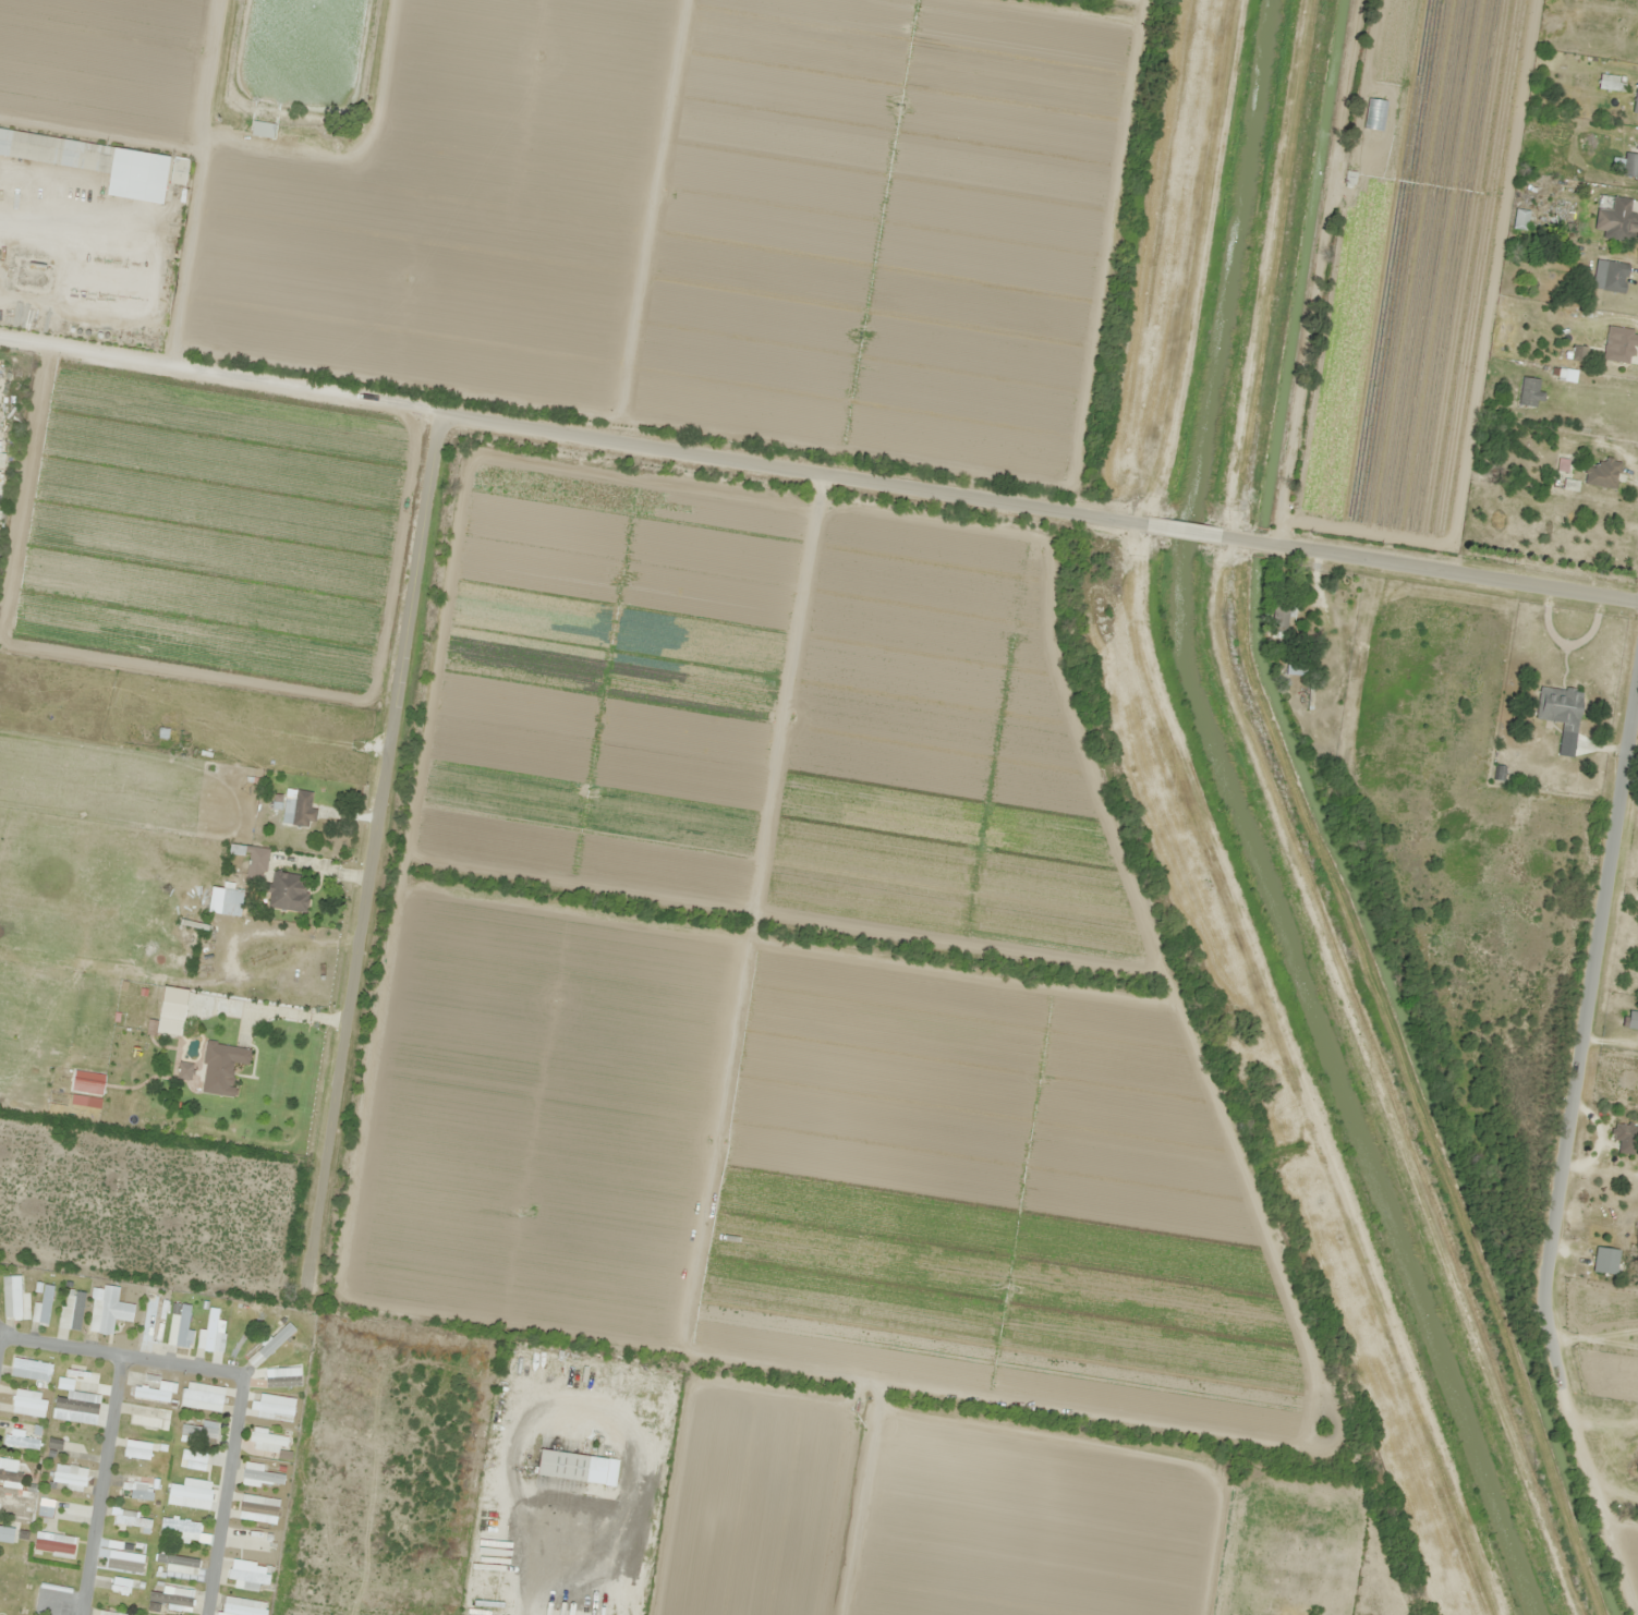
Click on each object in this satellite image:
building: (1637, 36)
building: (1607, 83)
building: (263, 129)
building: (96, 162)
building: (1619, 162)
building: (179, 171)
building: (1518, 219)
building: (1616, 220)
building: (1612, 276)
building: (1619, 343)
building: (1528, 391)
road: (364, 402)
road: (803, 470)
building: (1599, 473)
road: (1181, 526)
road: (1429, 566)
building: (1296, 666)
road: (450, 702)
building: (1558, 706)
building: (299, 810)
building: (250, 854)
building: (287, 891)
building: (231, 901)
building: (1630, 1020)
building: (221, 1068)
building: (184, 1071)
road: (1568, 1076)
building: (1623, 1138)
building: (1604, 1259)
building: (12, 1297)
building: (43, 1306)
building: (108, 1309)
building: (71, 1311)
building: (155, 1316)
building: (180, 1324)
building: (209, 1328)
road: (61, 1344)
building: (271, 1345)
building: (31, 1370)
building: (282, 1374)
building: (81, 1382)
building: (150, 1394)
building: (202, 1396)
building: (29, 1404)
building: (276, 1407)
building: (75, 1410)
building: (145, 1421)
building: (201, 1431)
road: (228, 1435)
building: (268, 1441)
building: (21, 1442)
building: (137, 1450)
building: (194, 1456)
building: (229, 1459)
building: (563, 1465)
building: (70, 1474)
building: (260, 1476)
building: (10, 1479)
road: (100, 1484)
building: (134, 1487)
building: (189, 1496)
building: (15, 1505)
building: (257, 1509)
building: (46, 1511)
building: (133, 1520)
building: (184, 1530)
building: (7, 1534)
building: (258, 1542)
building: (54, 1543)
building: (125, 1561)
building: (179, 1563)
building: (248, 1576)
building: (171, 1598)
building: (244, 1606)
building: (109, 1613)

